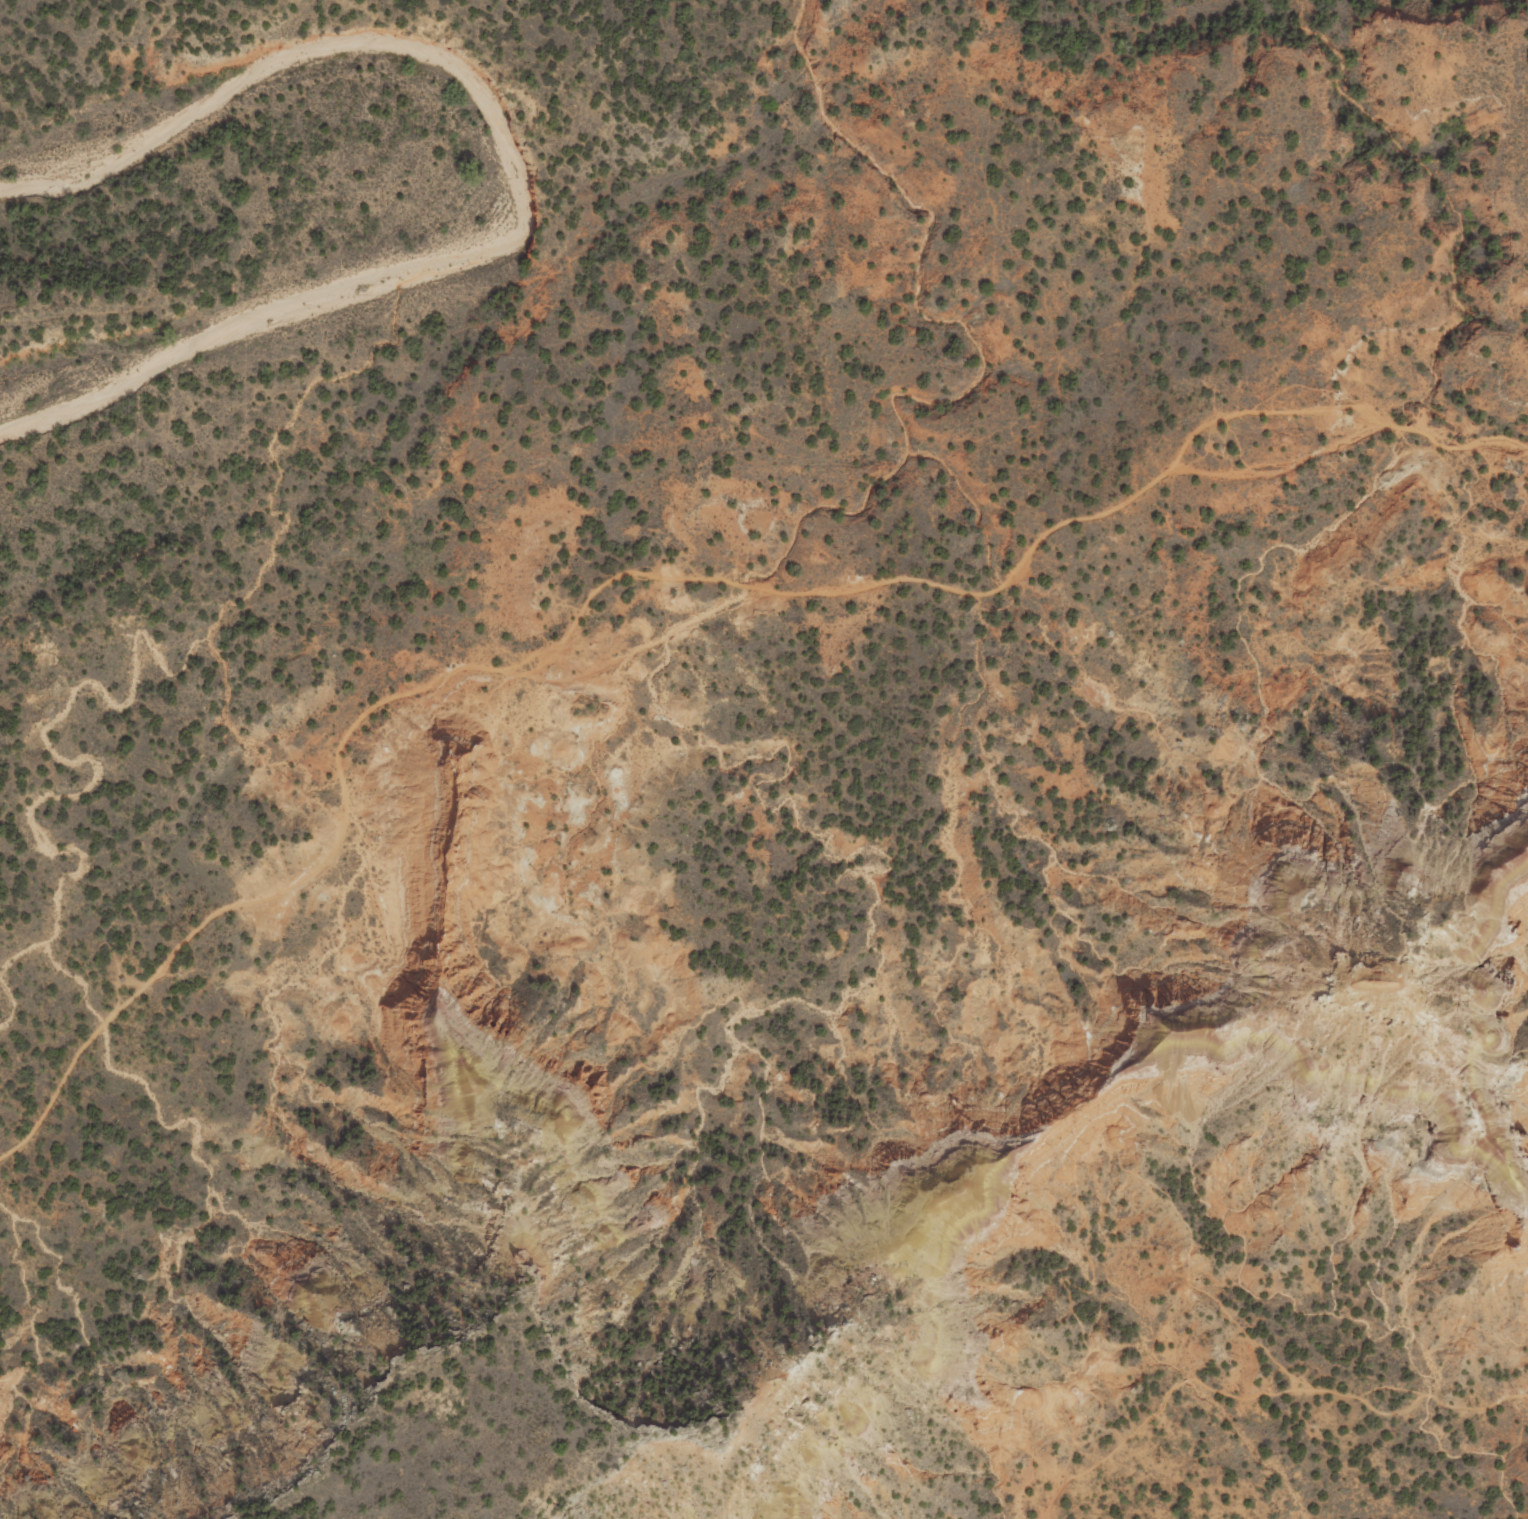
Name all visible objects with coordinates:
road: (645, 568)
road: (1073, 1170)
road: (1258, 1392)

